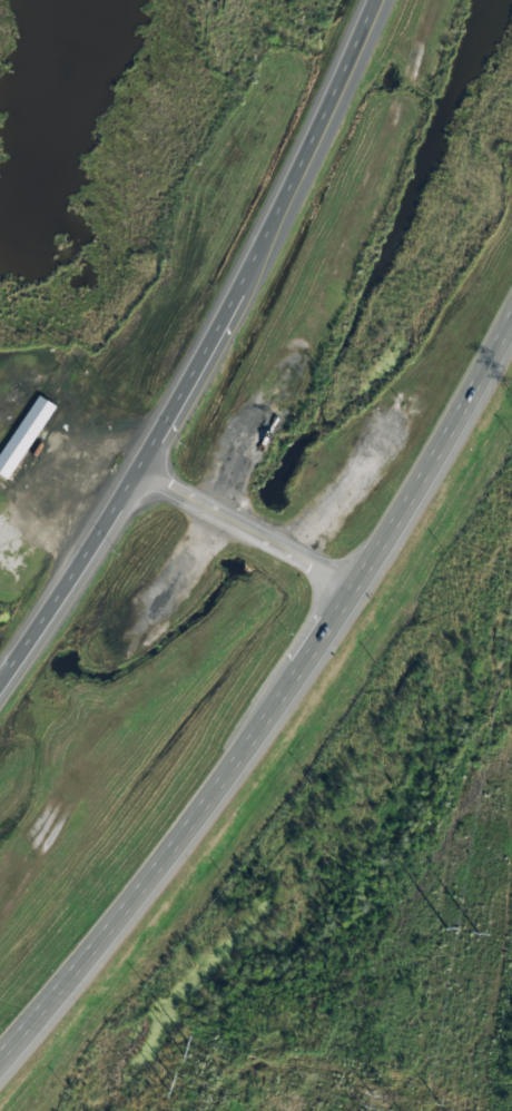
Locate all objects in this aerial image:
road: (272, 243)
building: (24, 436)
road: (441, 470)
road: (246, 533)
road: (68, 579)
road: (187, 839)

